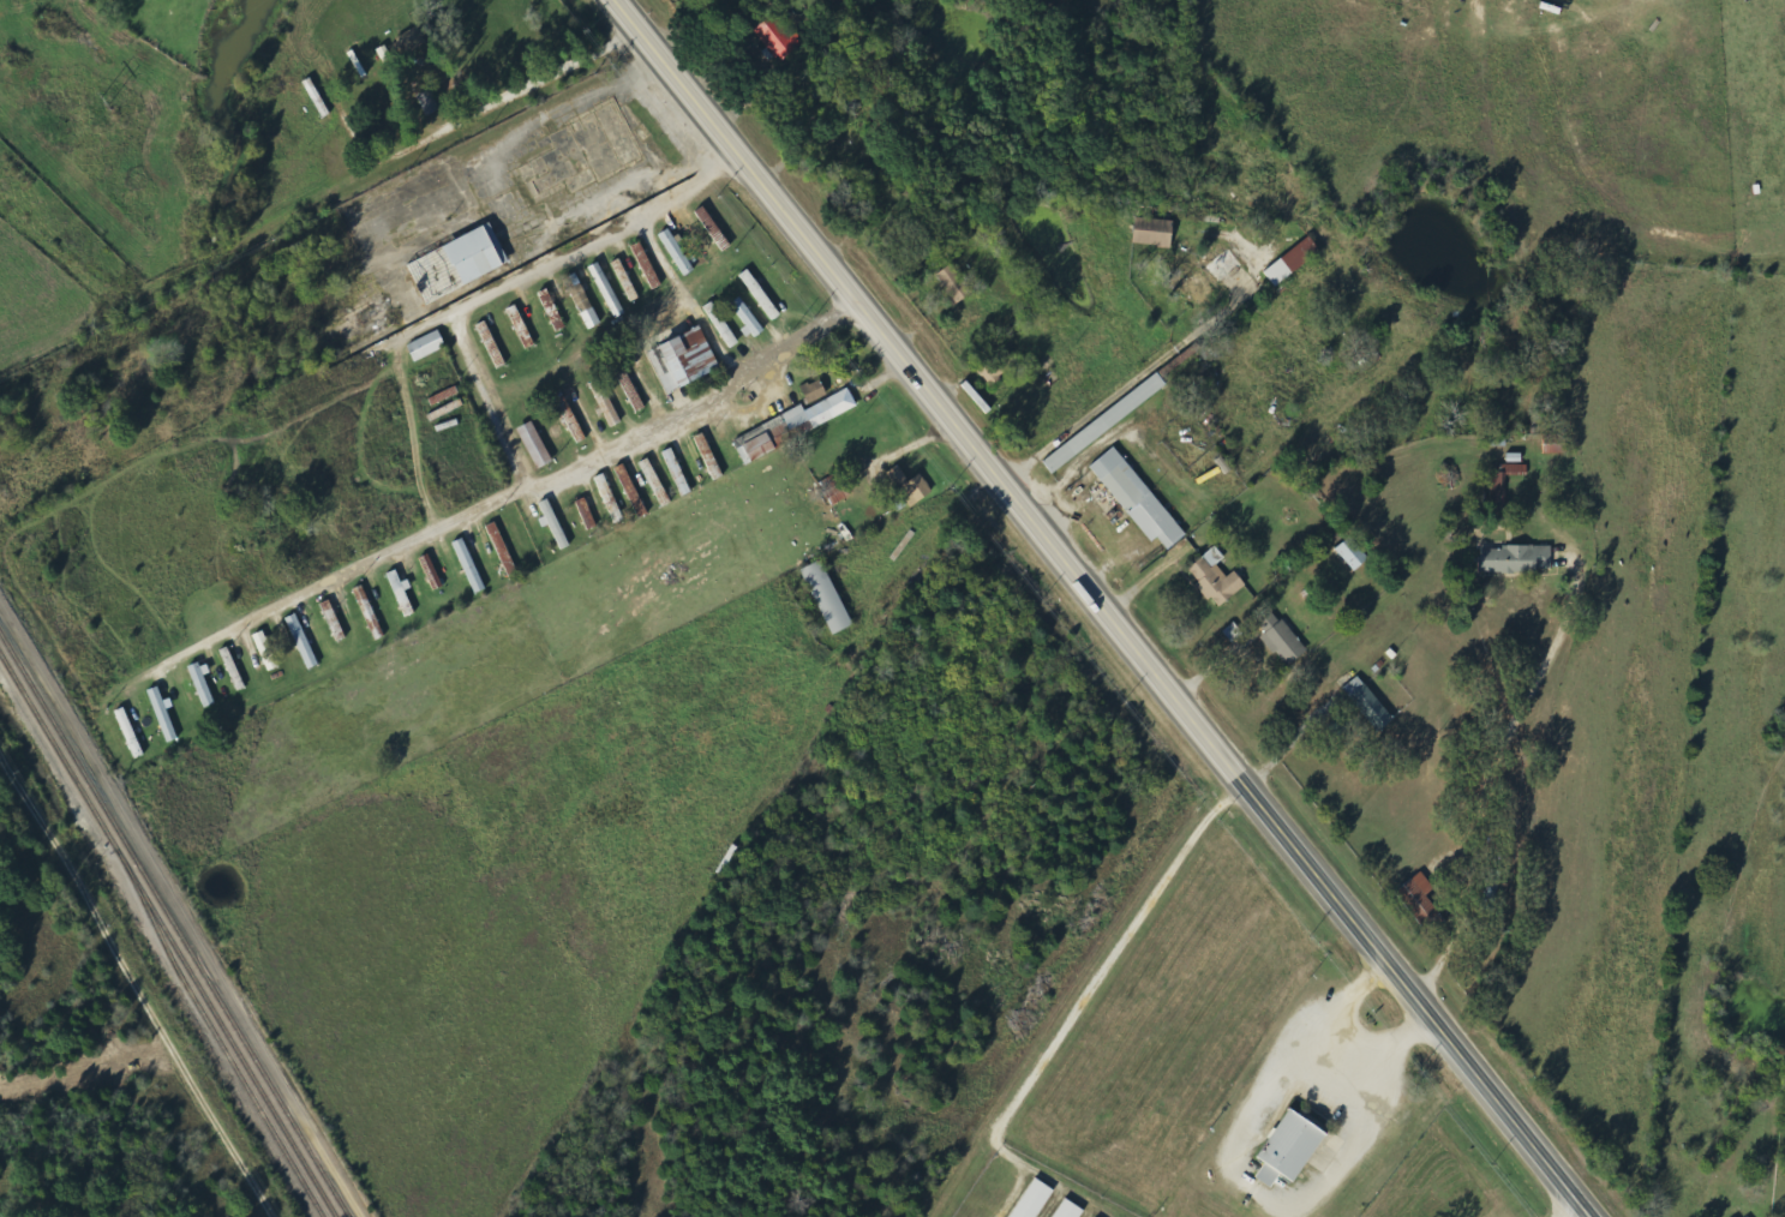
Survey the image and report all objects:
building: (779, 38)
building: (409, 43)
road: (459, 58)
power tower: (103, 101)
building: (430, 103)
building: (1156, 233)
building: (678, 253)
building: (1294, 262)
building: (461, 264)
building: (648, 265)
building: (1214, 276)
building: (627, 281)
building: (956, 284)
building: (609, 290)
building: (762, 295)
building: (583, 301)
building: (553, 311)
building: (748, 318)
building: (723, 325)
building: (522, 328)
building: (492, 346)
building: (429, 347)
road: (597, 350)
building: (687, 360)
building: (816, 391)
building: (605, 402)
building: (571, 418)
building: (1107, 424)
building: (795, 426)
building: (537, 445)
building: (1557, 445)
building: (711, 457)
building: (678, 473)
building: (657, 484)
building: (1504, 485)
building: (912, 487)
building: (837, 488)
building: (606, 490)
building: (633, 492)
building: (1139, 499)
building: (588, 515)
building: (555, 524)
building: (504, 550)
building: (1354, 554)
building: (1517, 559)
building: (471, 566)
building: (433, 572)
building: (1216, 578)
building: (829, 599)
road: (1103, 607)
building: (1281, 636)
building: (304, 642)
building: (268, 652)
building: (203, 687)
building: (1370, 705)
road: (727, 712)
railway: (59, 753)
road: (1505, 780)
building: (1420, 898)
railway: (174, 924)
railway: (227, 1033)
railway: (222, 1047)
building: (1292, 1149)
building: (1035, 1200)
building: (1070, 1210)
building: (1744, 1215)

